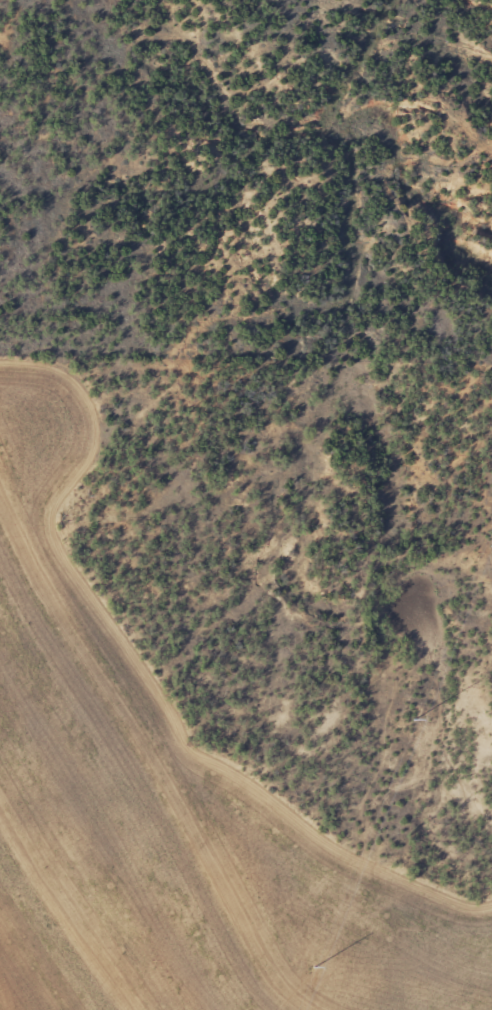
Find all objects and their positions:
power tower: (416, 714)
power tower: (311, 972)

